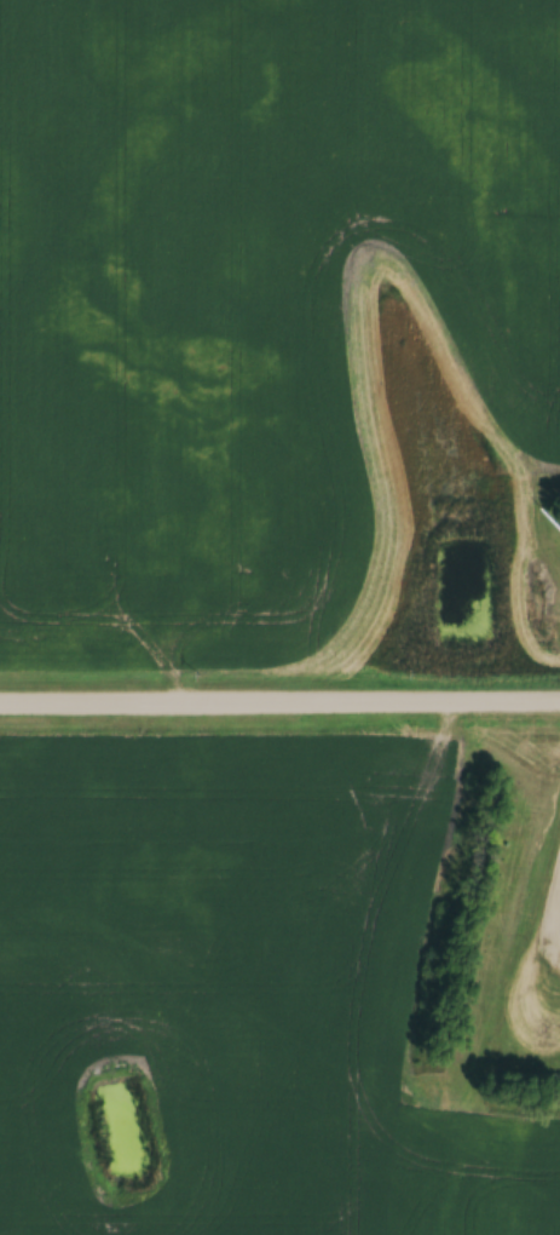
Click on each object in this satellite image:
road: (279, 706)

